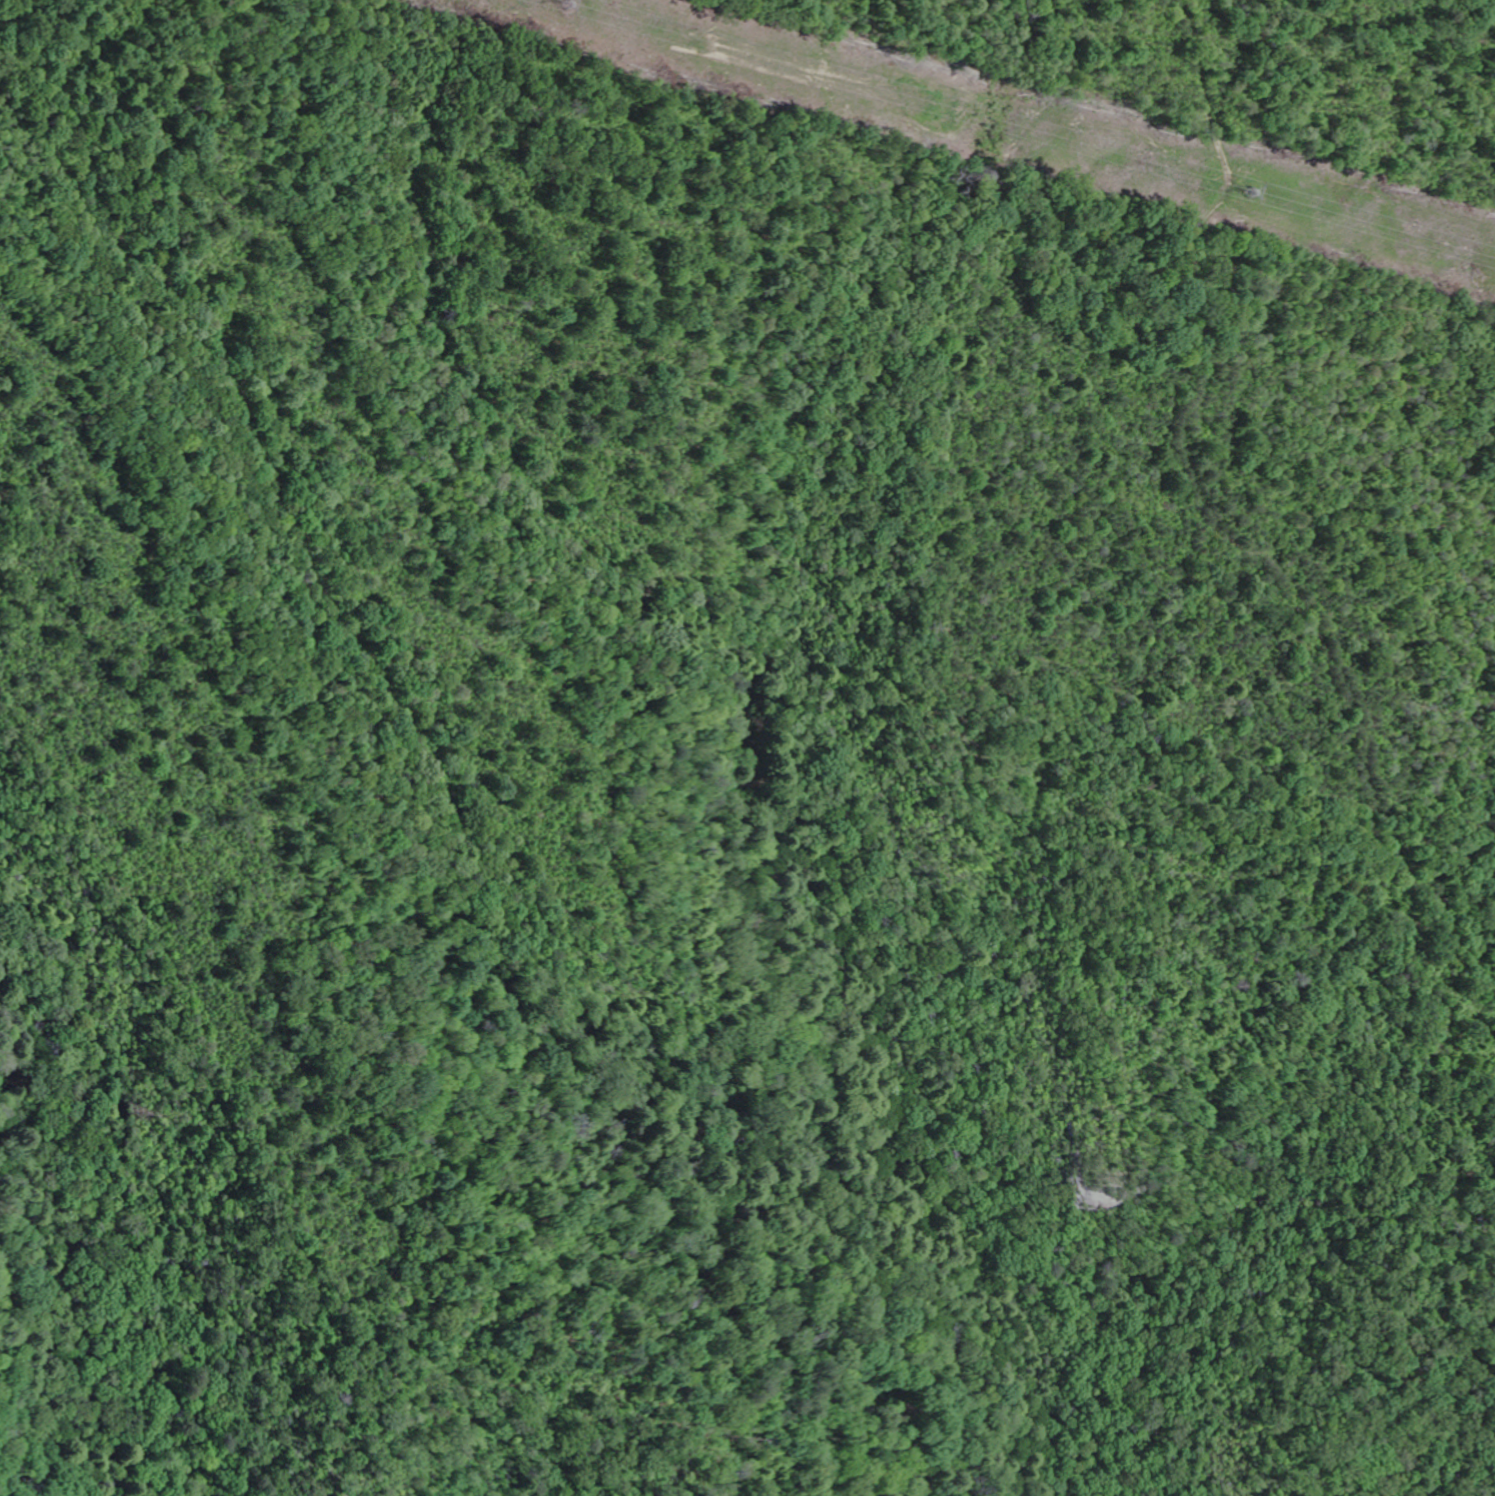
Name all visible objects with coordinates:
road: (1215, 529)

